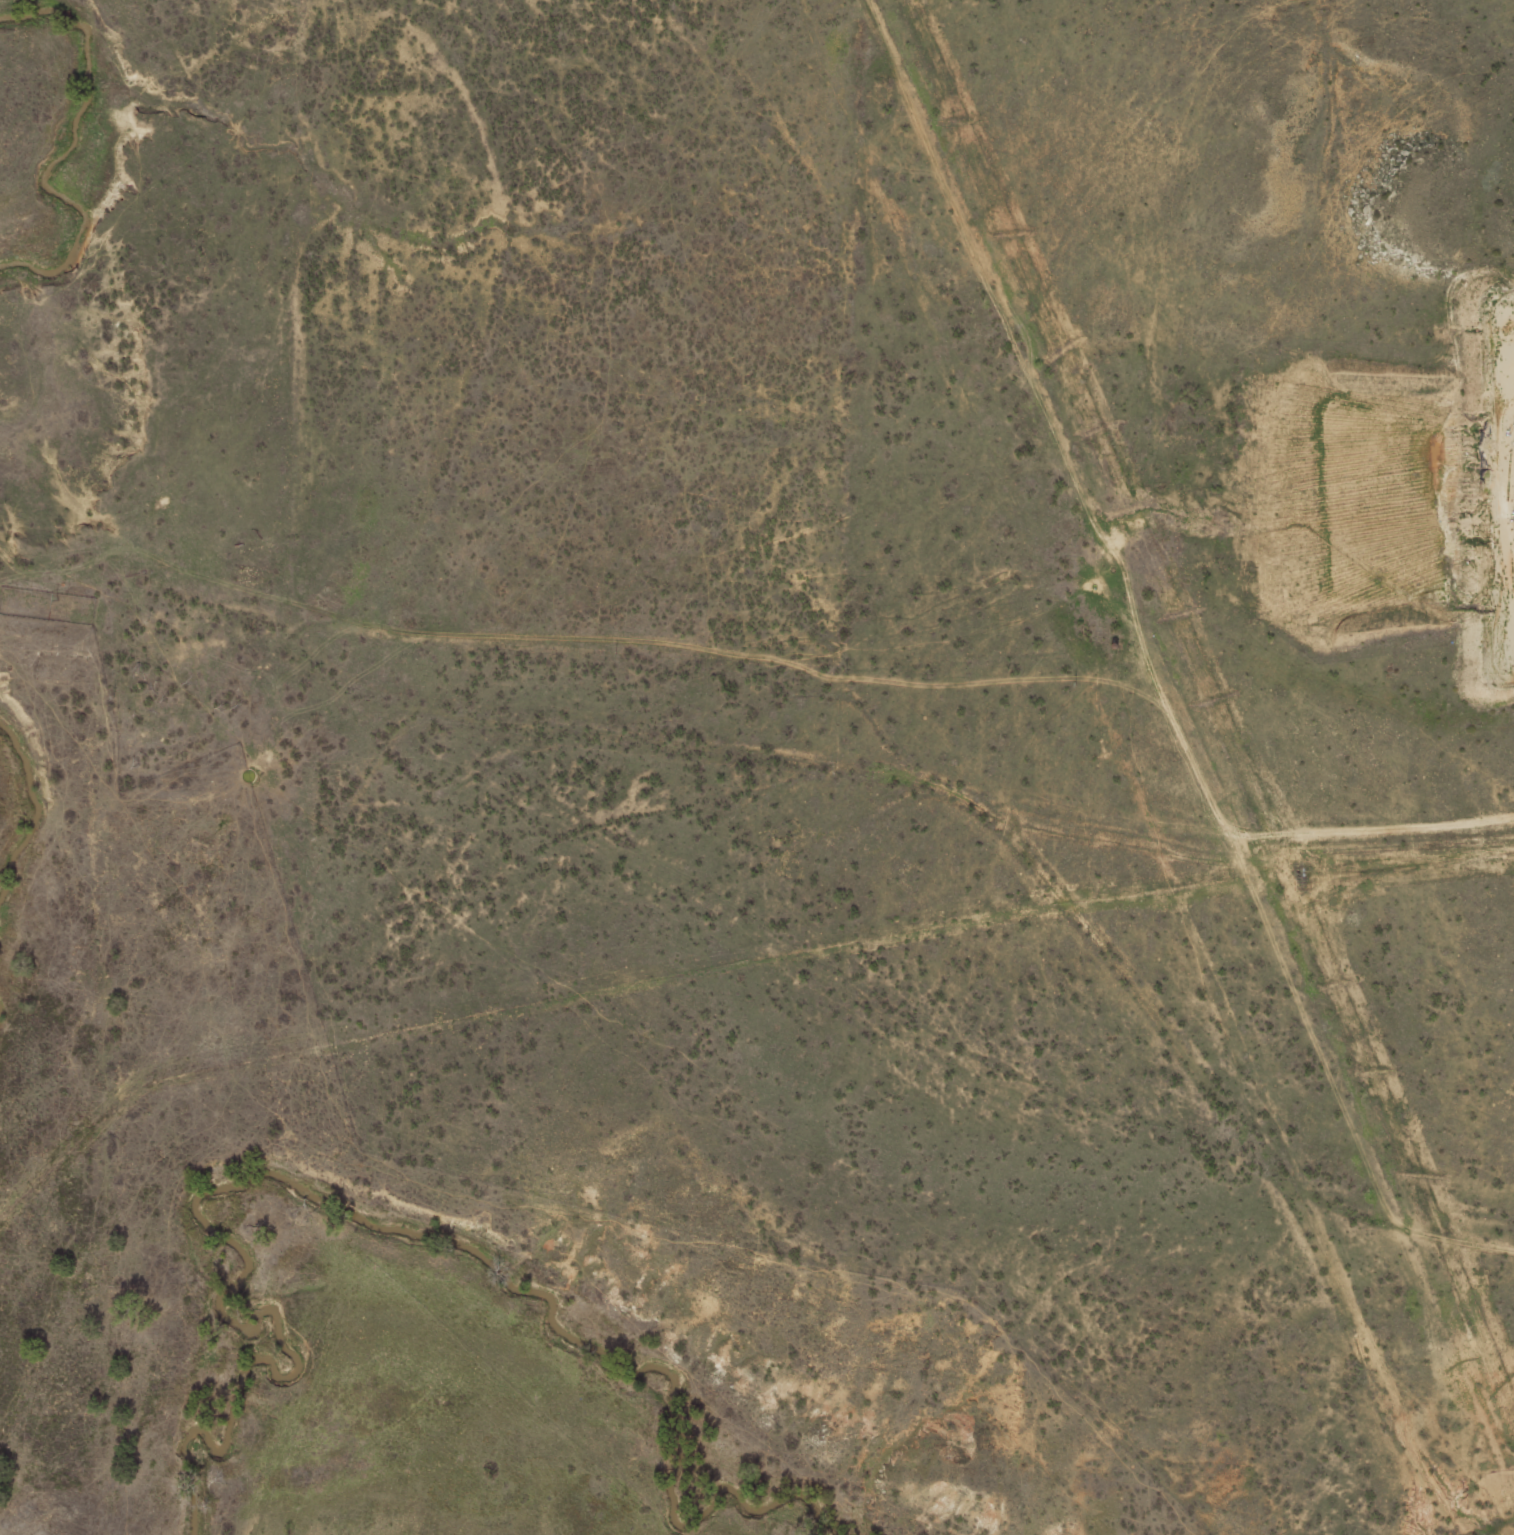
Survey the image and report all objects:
road: (482, 733)
road: (1236, 851)

